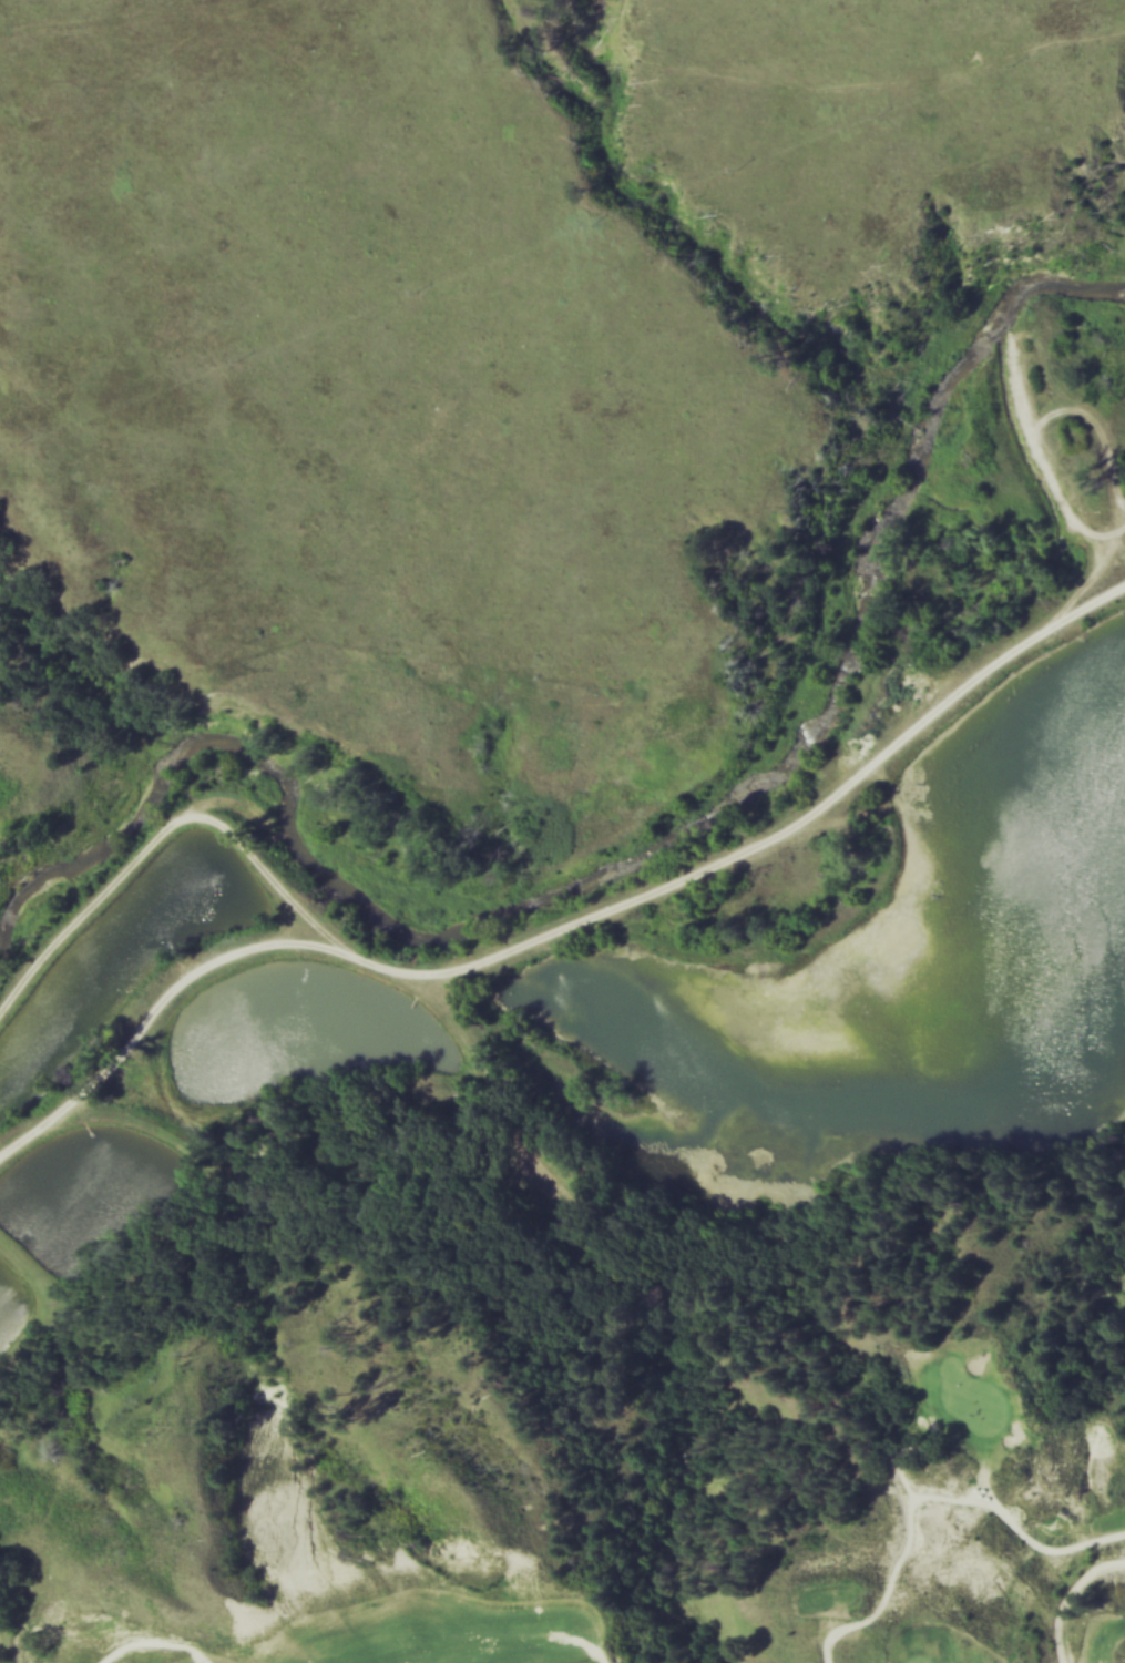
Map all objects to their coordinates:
road: (759, 850)
road: (151, 1016)

